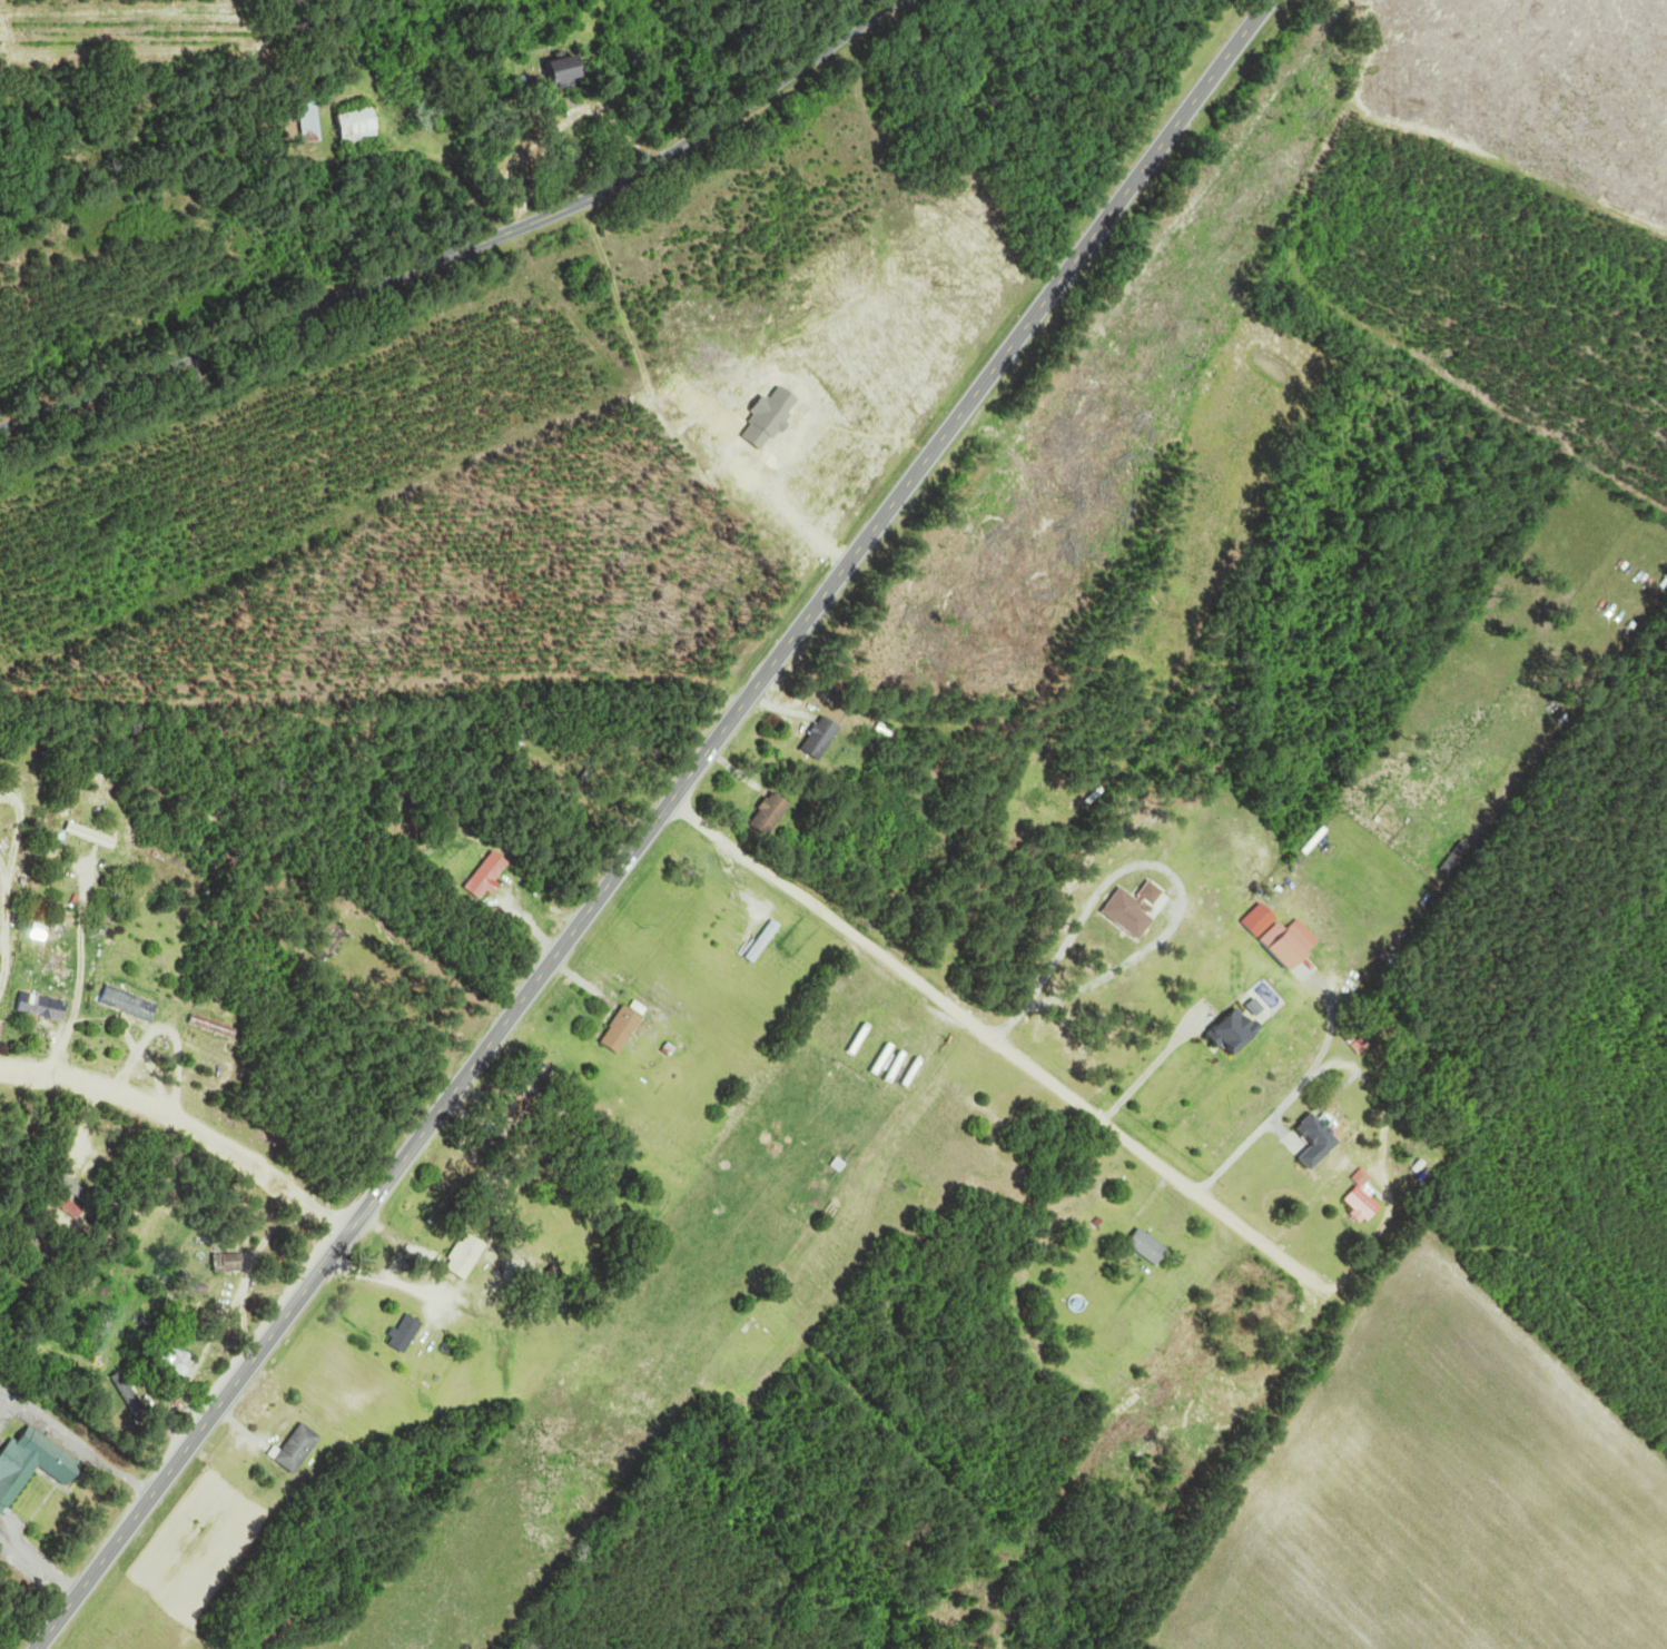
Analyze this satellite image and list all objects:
building: (575, 71)
building: (314, 122)
building: (363, 128)
road: (463, 247)
road: (807, 615)
building: (825, 738)
building: (773, 814)
road: (22, 820)
building: (91, 836)
road: (6, 860)
building: (489, 876)
road: (11, 935)
building: (765, 941)
building: (1294, 948)
building: (135, 1003)
building: (214, 1026)
building: (624, 1028)
building: (1242, 1031)
road: (185, 1124)
road: (1116, 1133)
building: (1326, 1139)
building: (1370, 1198)
building: (71, 1199)
building: (1154, 1246)
building: (470, 1254)
building: (231, 1262)
building: (410, 1332)
road: (191, 1441)
building: (303, 1449)
building: (1161, 1455)
building: (34, 1468)

